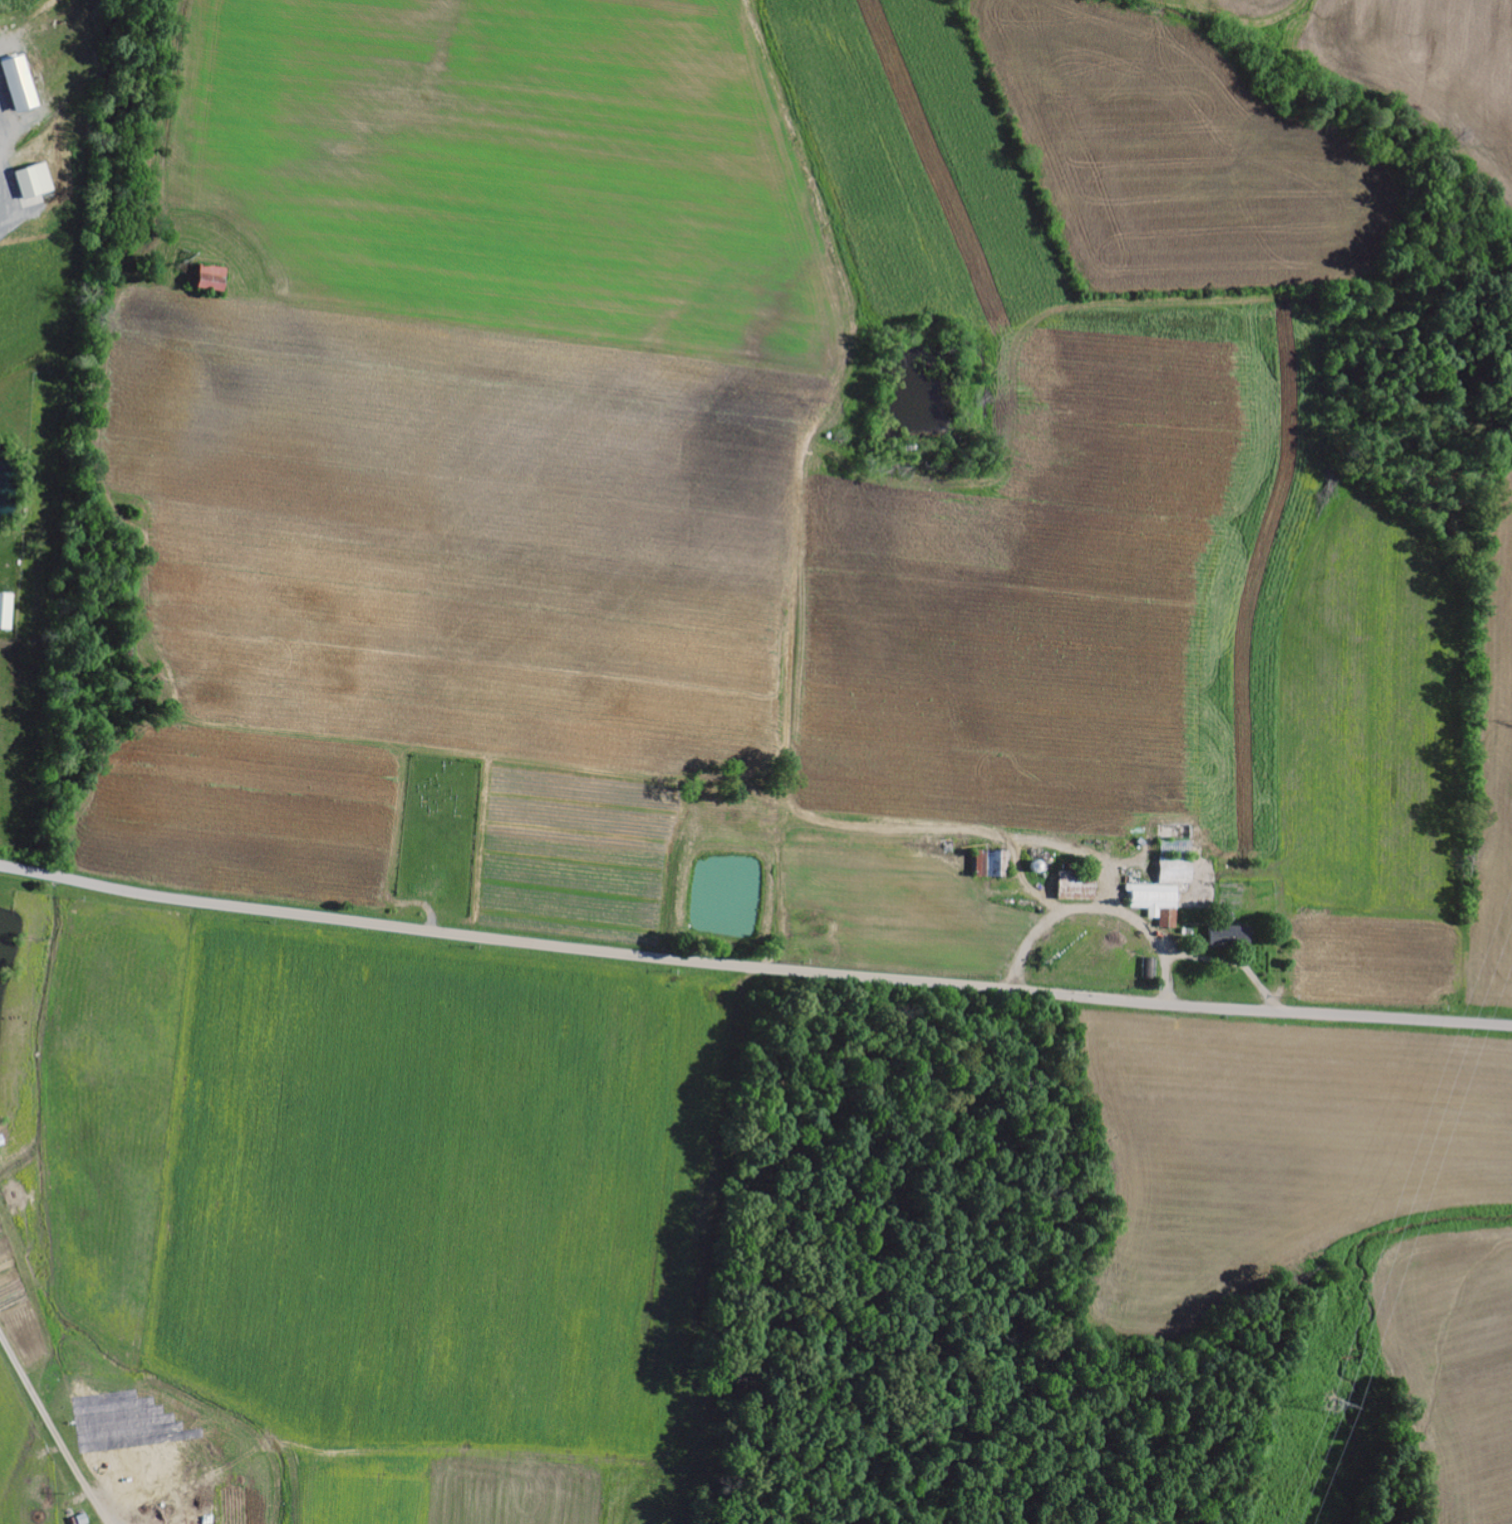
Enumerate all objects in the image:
building: (19, 86)
building: (34, 182)
building: (33, 202)
building: (212, 278)
road: (777, 407)
building: (6, 611)
building: (1176, 833)
building: (992, 864)
building: (1176, 871)
building: (1075, 888)
building: (1157, 902)
building: (1230, 938)
road: (753, 966)
power tower: (1329, 1404)

